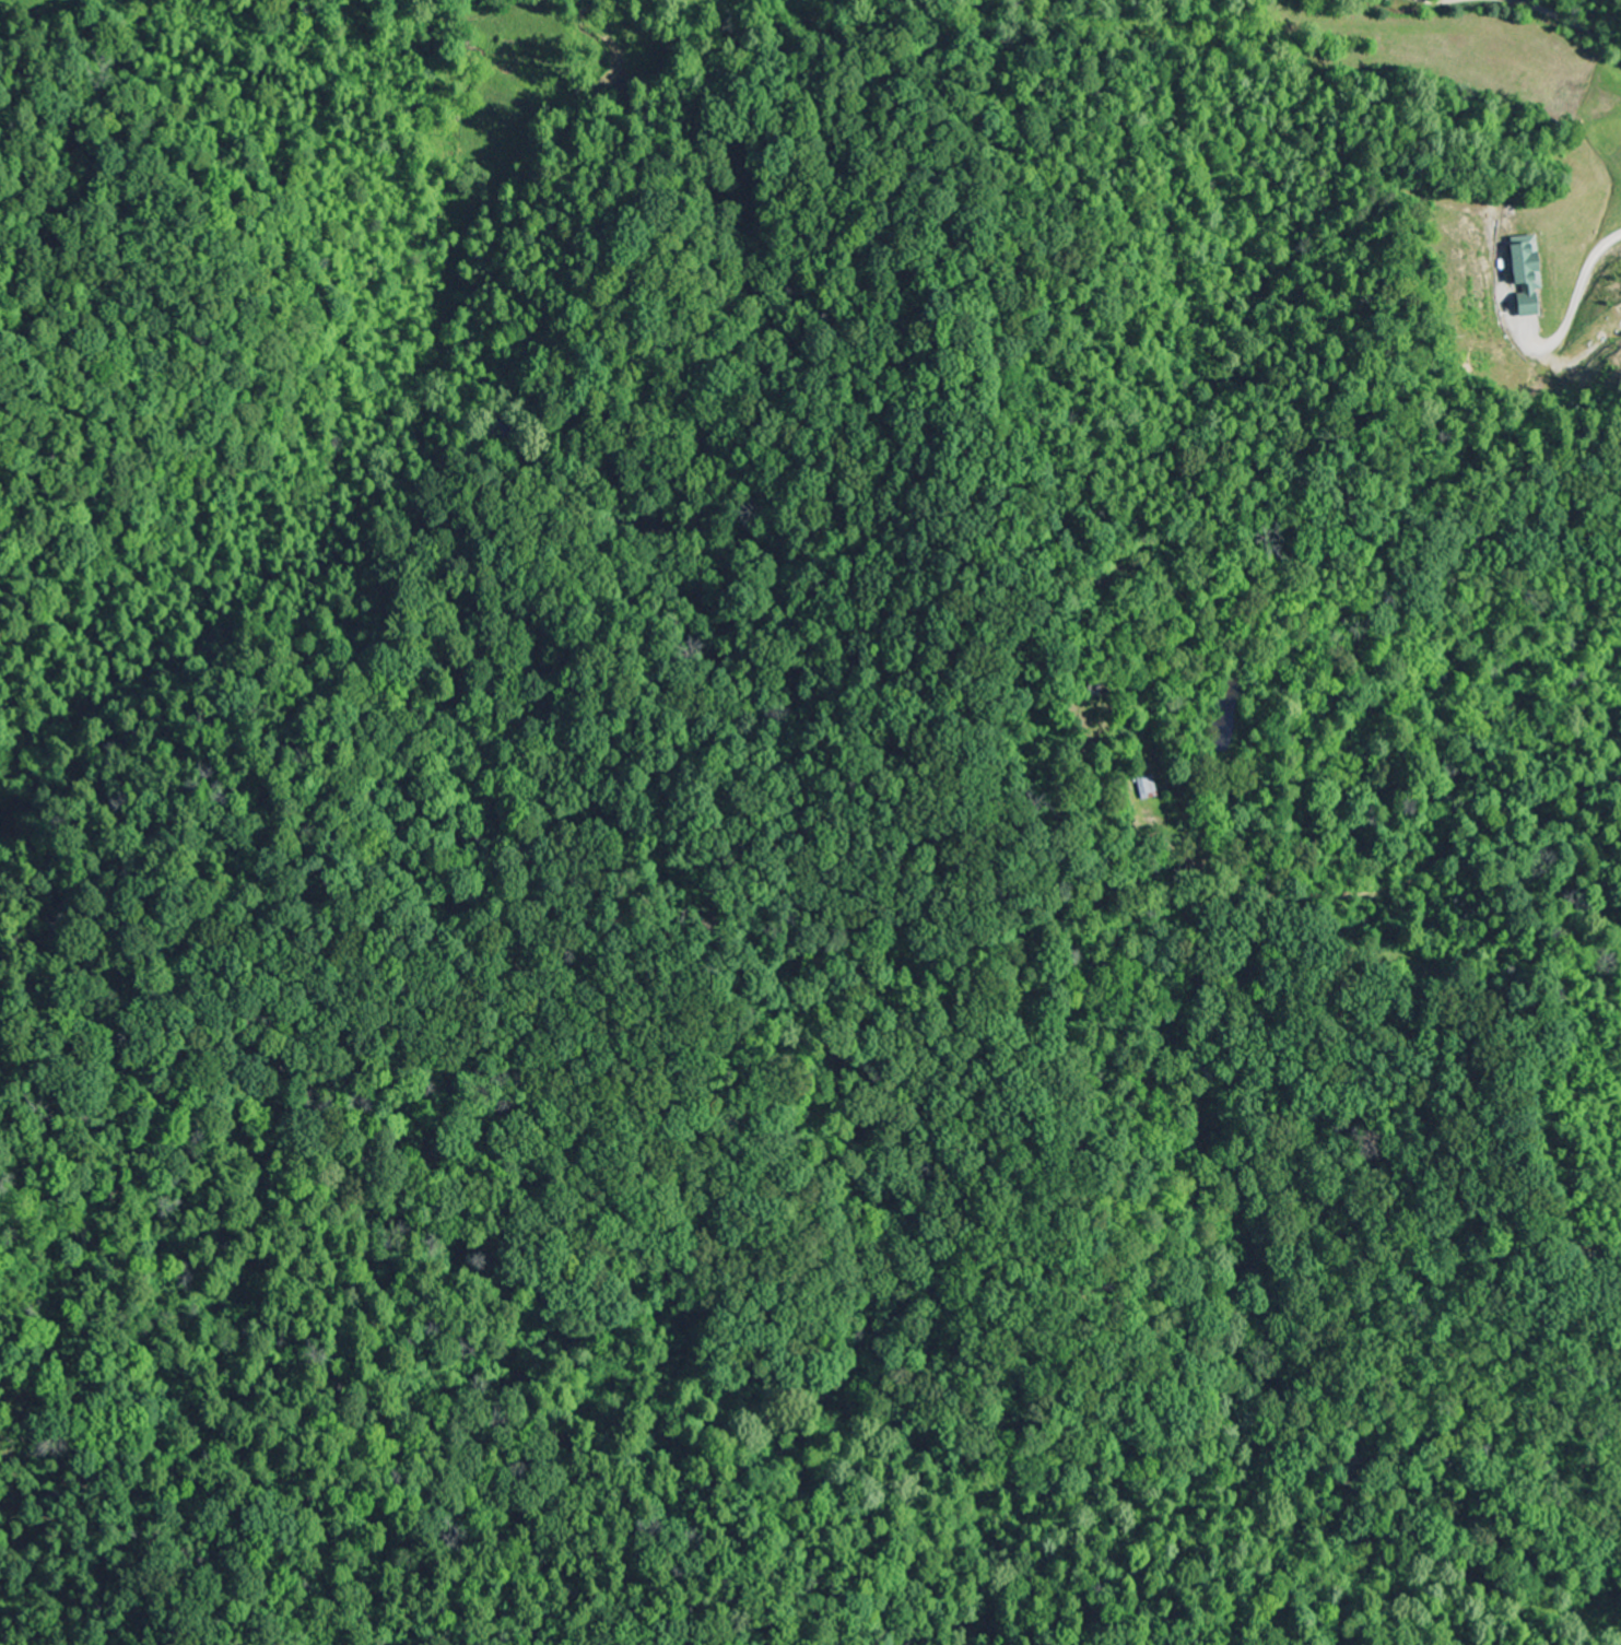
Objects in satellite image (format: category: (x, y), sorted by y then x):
road: (907, 16)
road: (1566, 19)
road: (673, 37)
building: (1522, 274)
building: (1147, 787)

